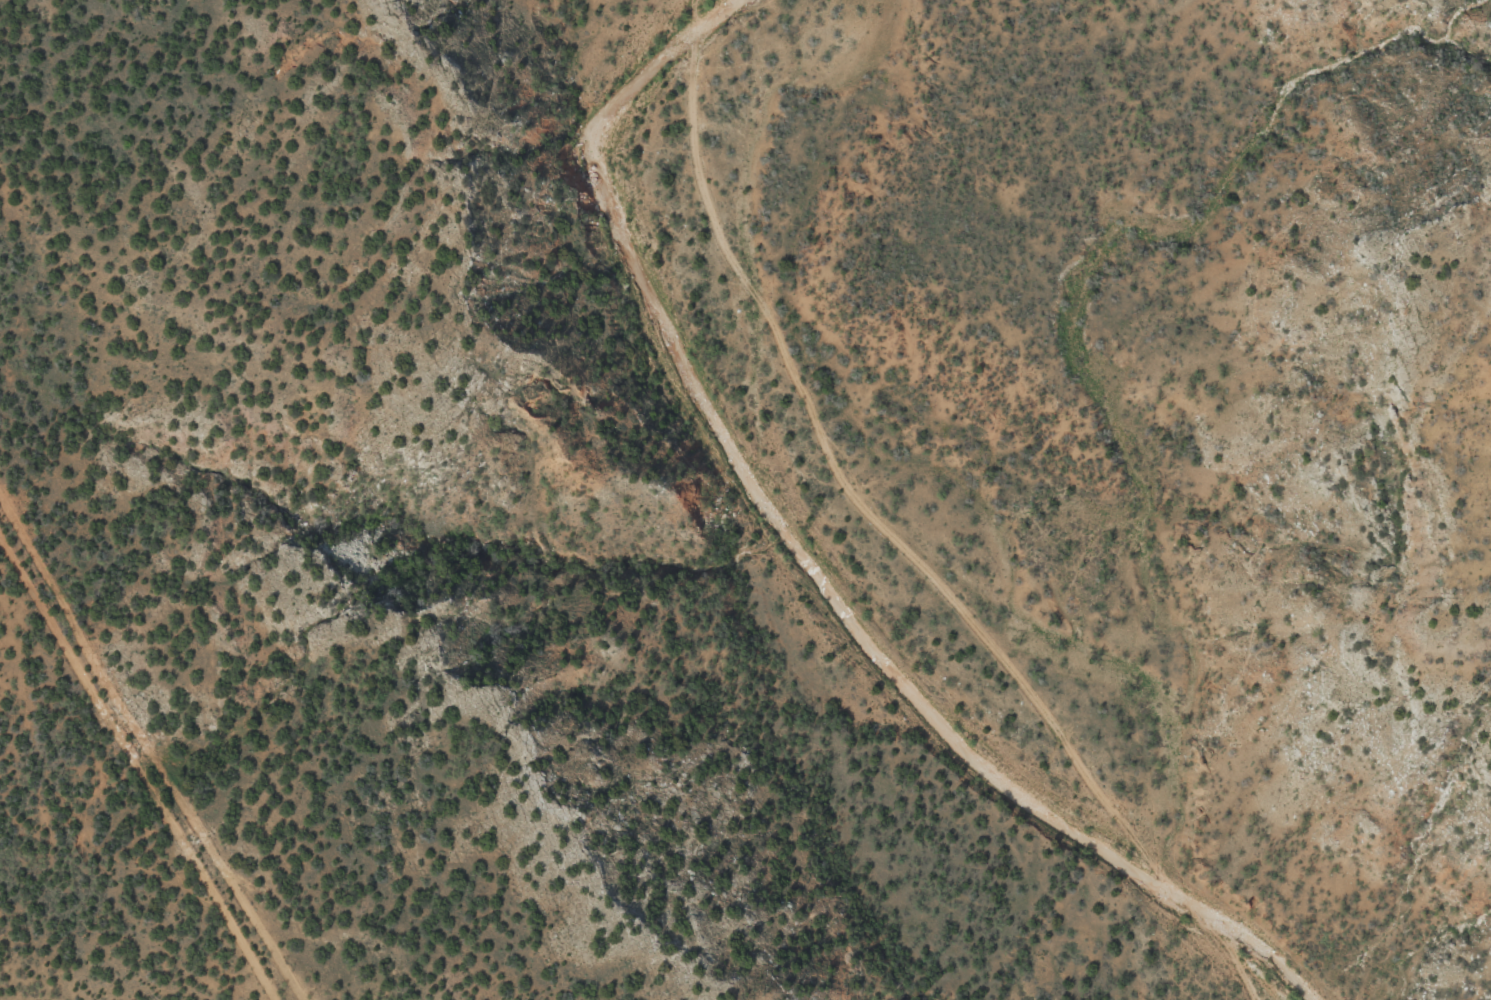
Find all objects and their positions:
road: (724, 572)

